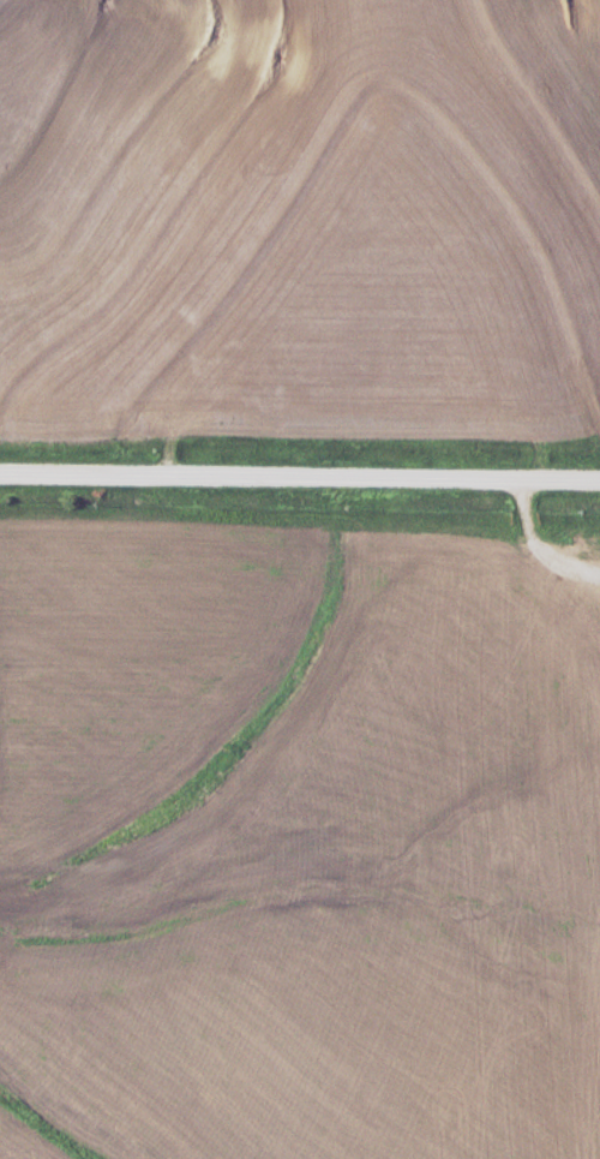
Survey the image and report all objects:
road: (300, 474)

